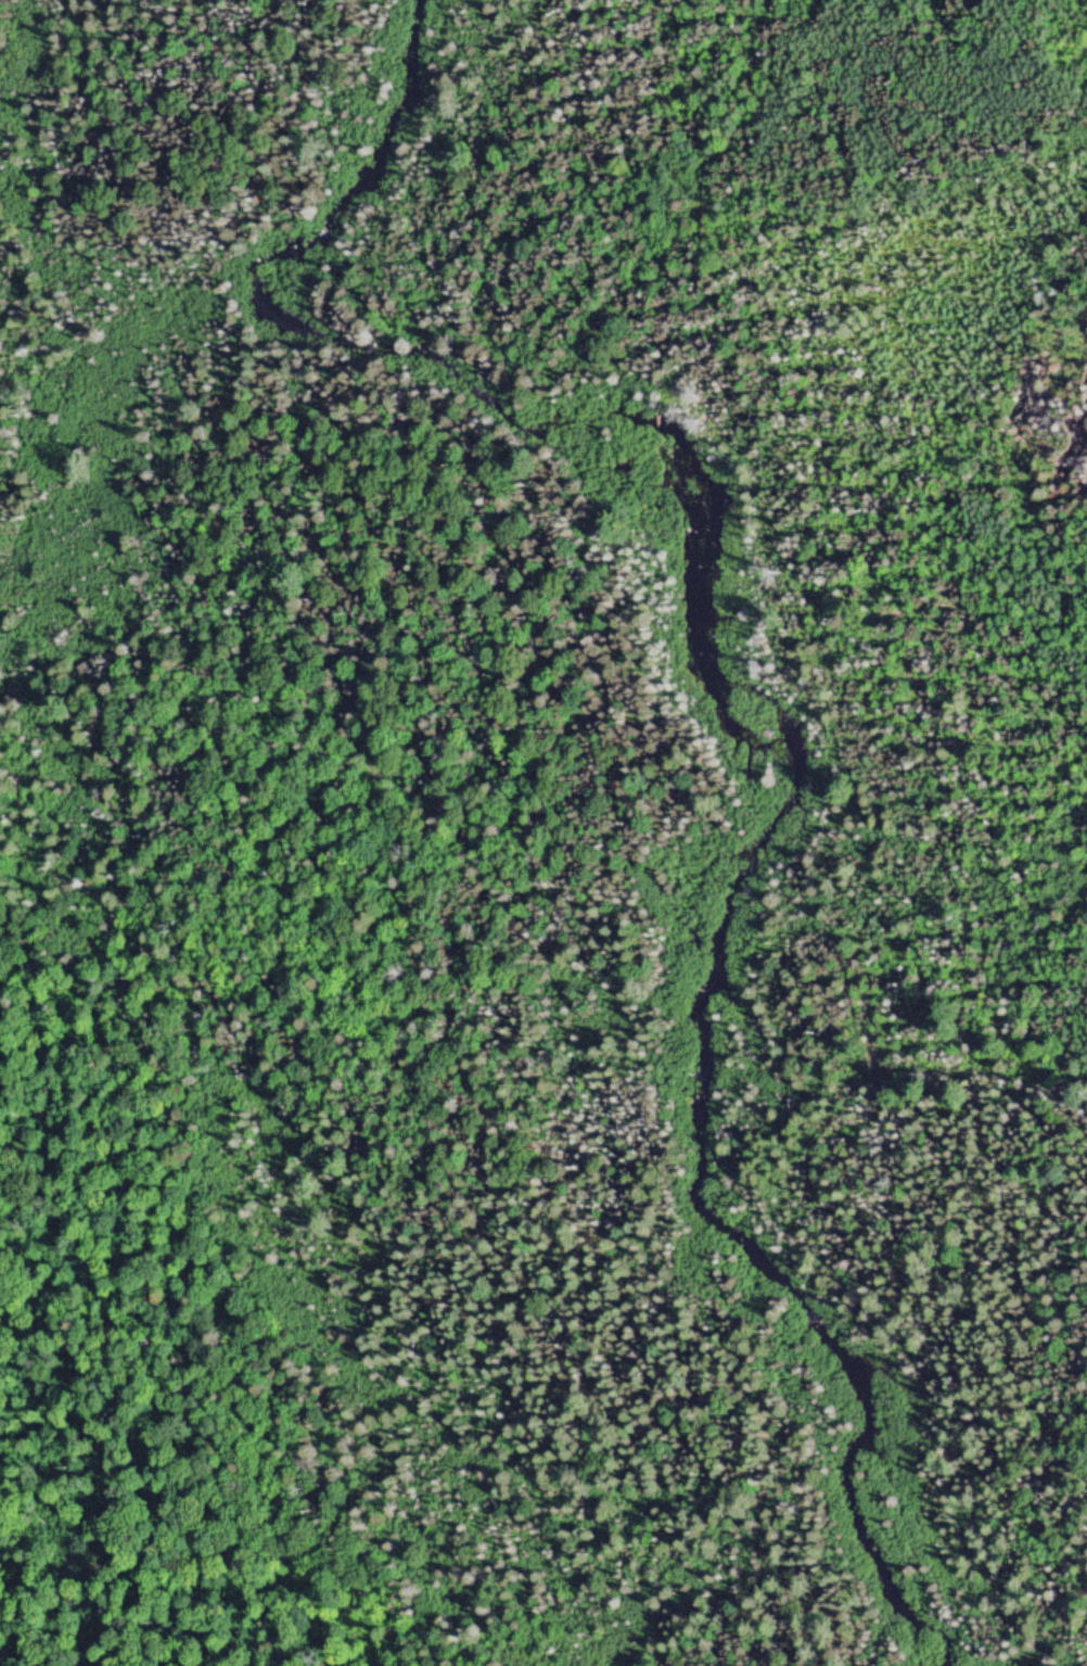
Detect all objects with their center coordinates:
river: (745, 729)

